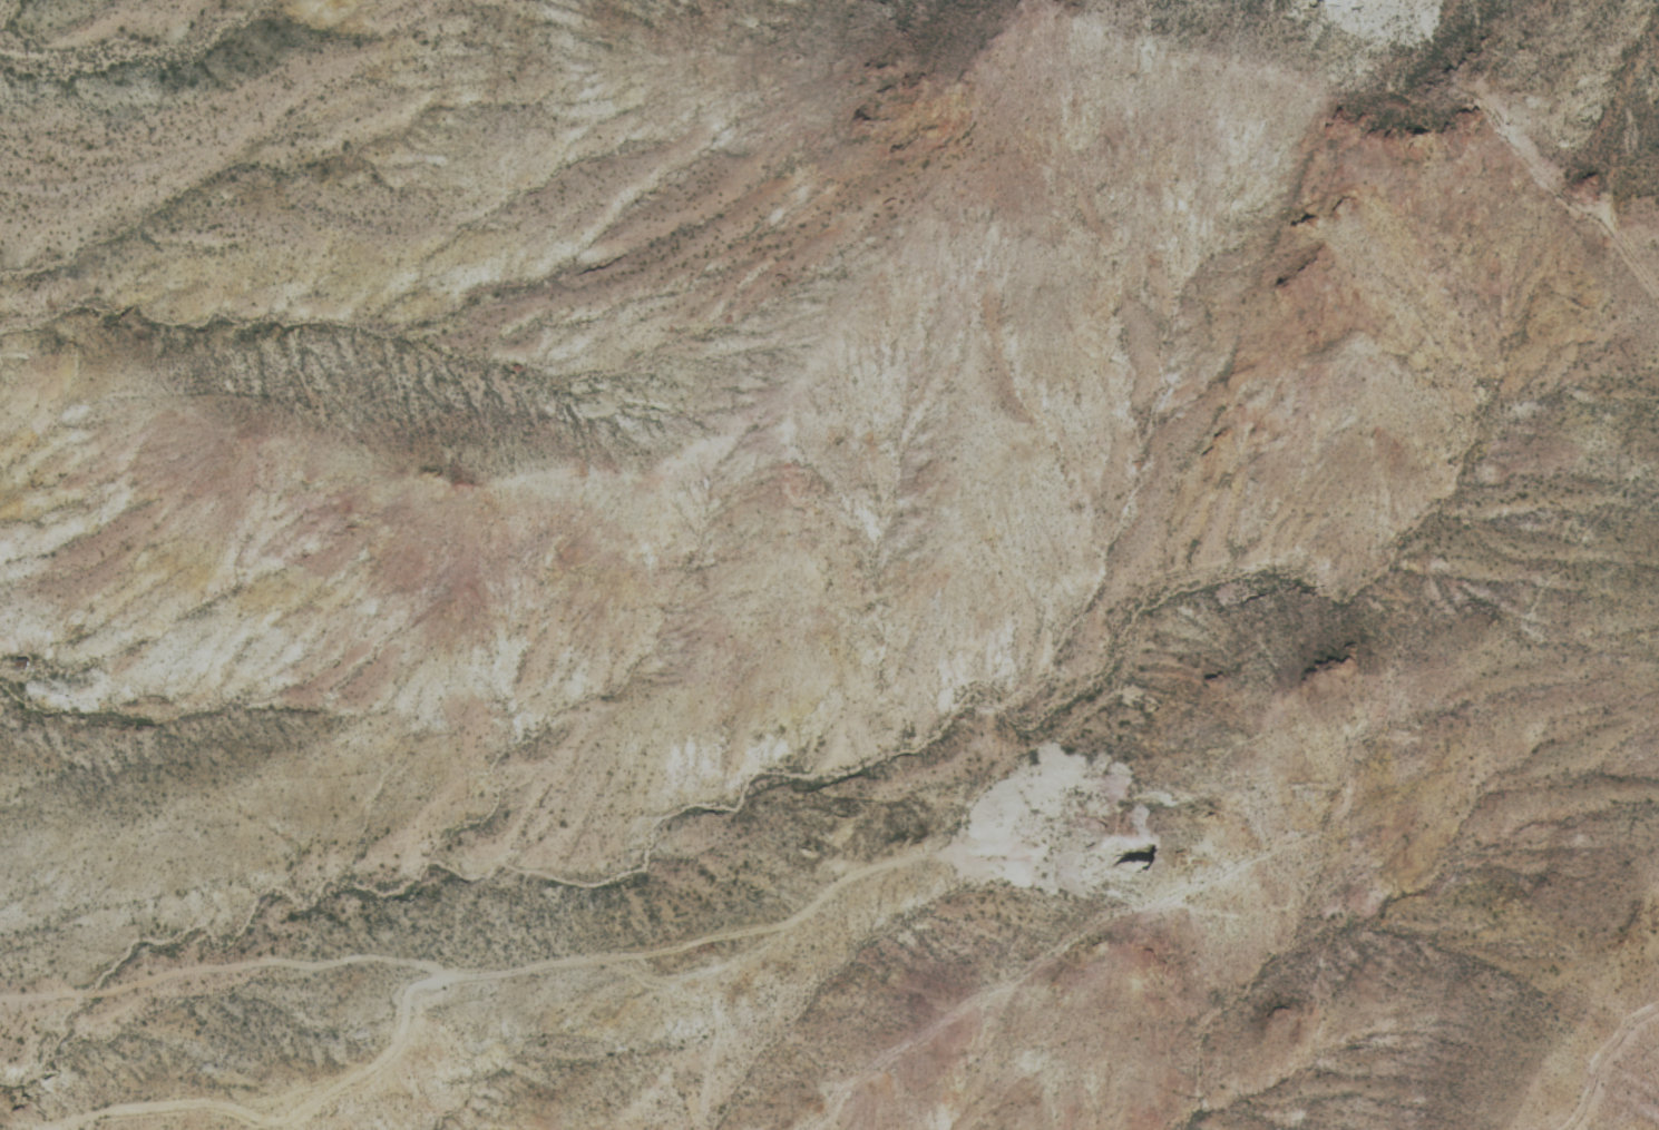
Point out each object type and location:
road: (789, 922)
road: (416, 976)
road: (377, 1064)
road: (1613, 1083)
road: (155, 1123)

